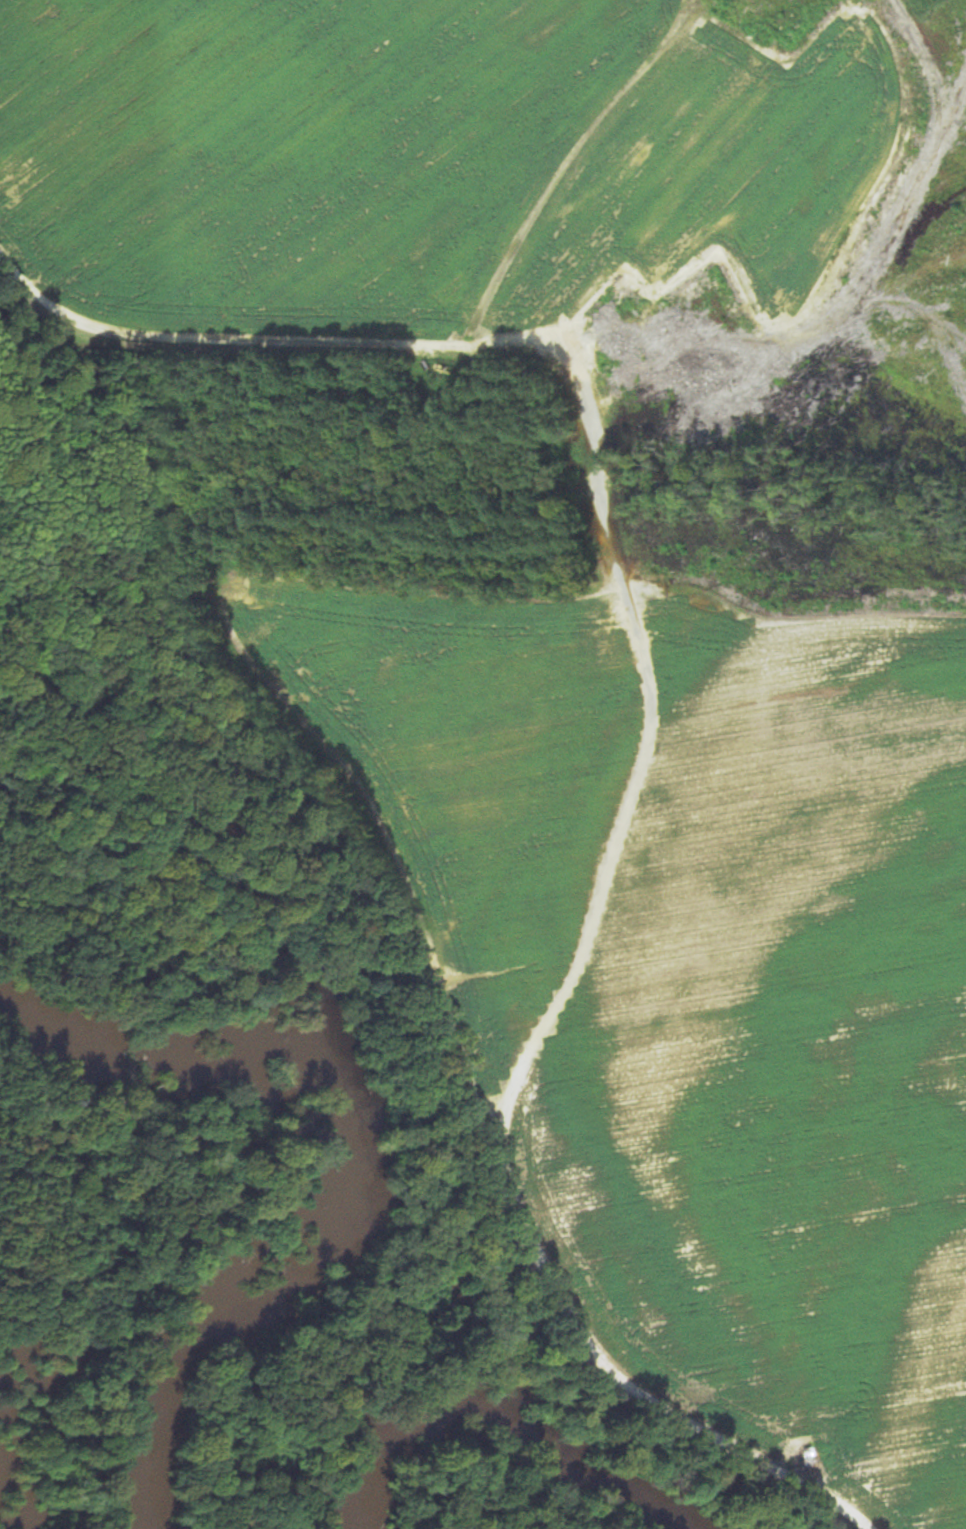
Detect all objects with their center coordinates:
road: (640, 748)
river: (332, 1180)
river: (493, 1425)

